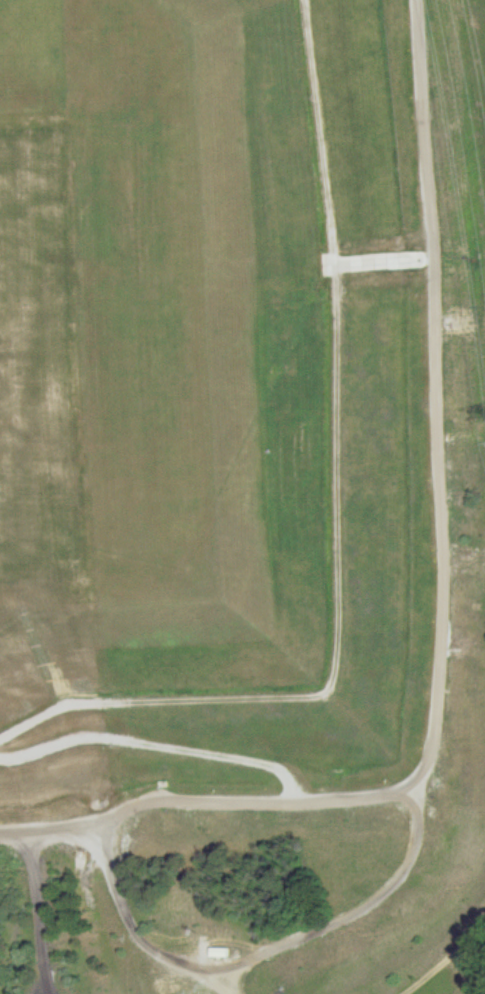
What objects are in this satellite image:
building: (216, 951)

